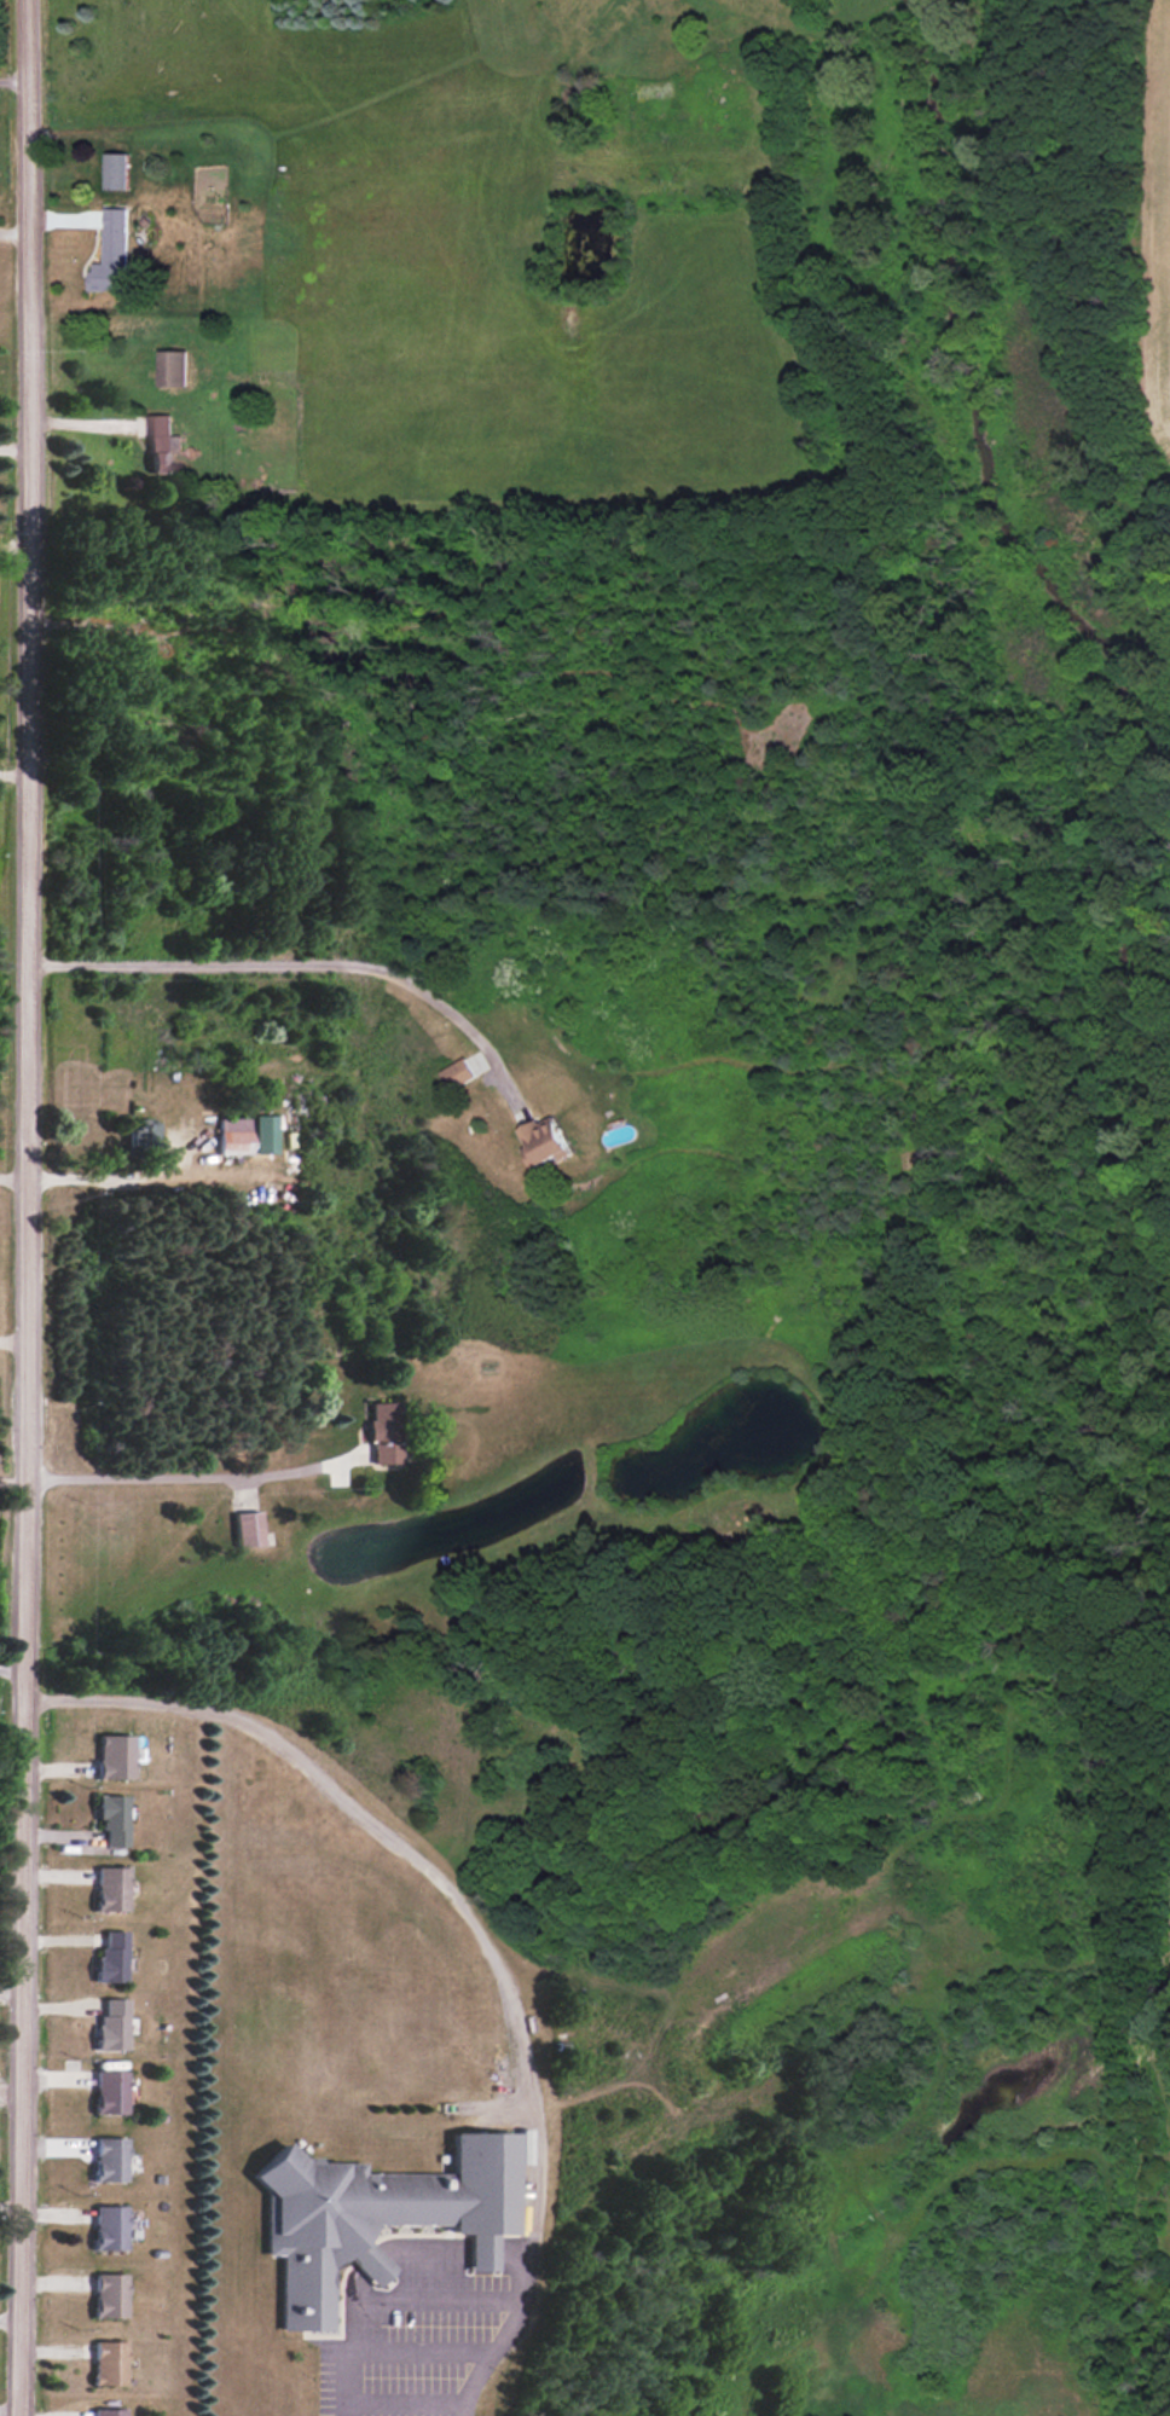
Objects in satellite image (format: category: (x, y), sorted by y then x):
road: (16, 83)
building: (116, 170)
building: (114, 254)
building: (173, 367)
road: (85, 433)
building: (160, 444)
road: (16, 451)
road: (305, 961)
building: (458, 1074)
building: (139, 1132)
building: (241, 1137)
road: (15, 1176)
road: (111, 1176)
road: (29, 1207)
road: (15, 1342)
building: (380, 1432)
road: (189, 1479)
building: (247, 1529)
road: (12, 1671)
building: (112, 1756)
building: (110, 1819)
road: (429, 1879)
building: (108, 1888)
building: (109, 1958)
building: (110, 2026)
building: (108, 2092)
building: (108, 2160)
building: (375, 2215)
building: (106, 2227)
building: (106, 2295)
road: (442, 2307)
road: (8, 2319)
building: (106, 2362)
road: (8, 2411)
building: (105, 2411)

